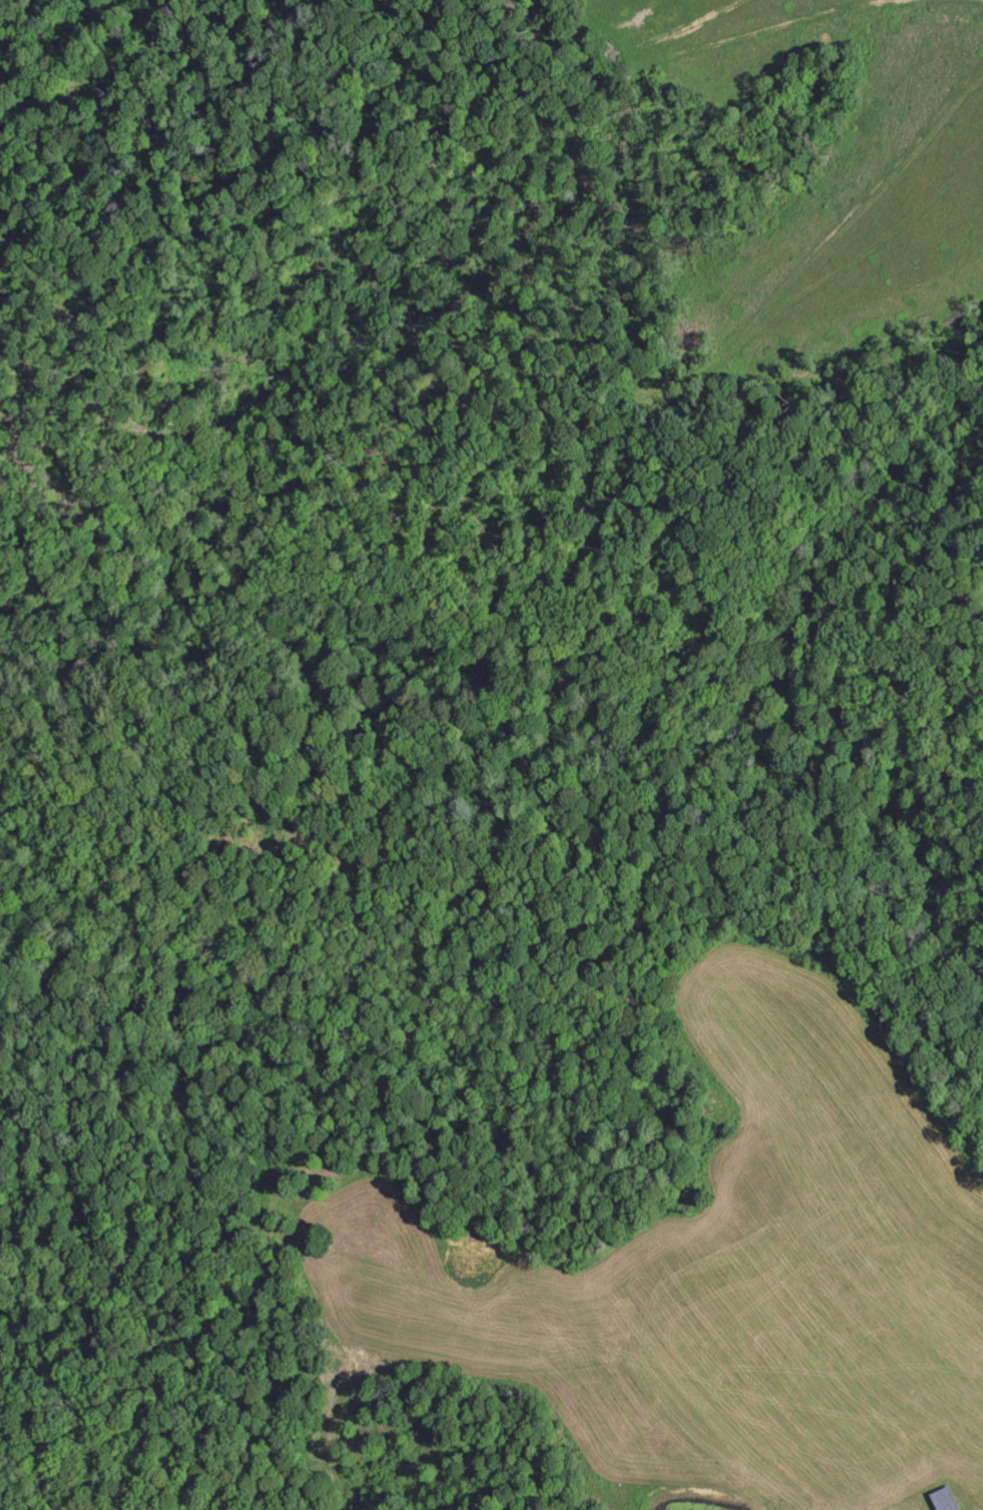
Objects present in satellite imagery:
building: (942, 1499)

